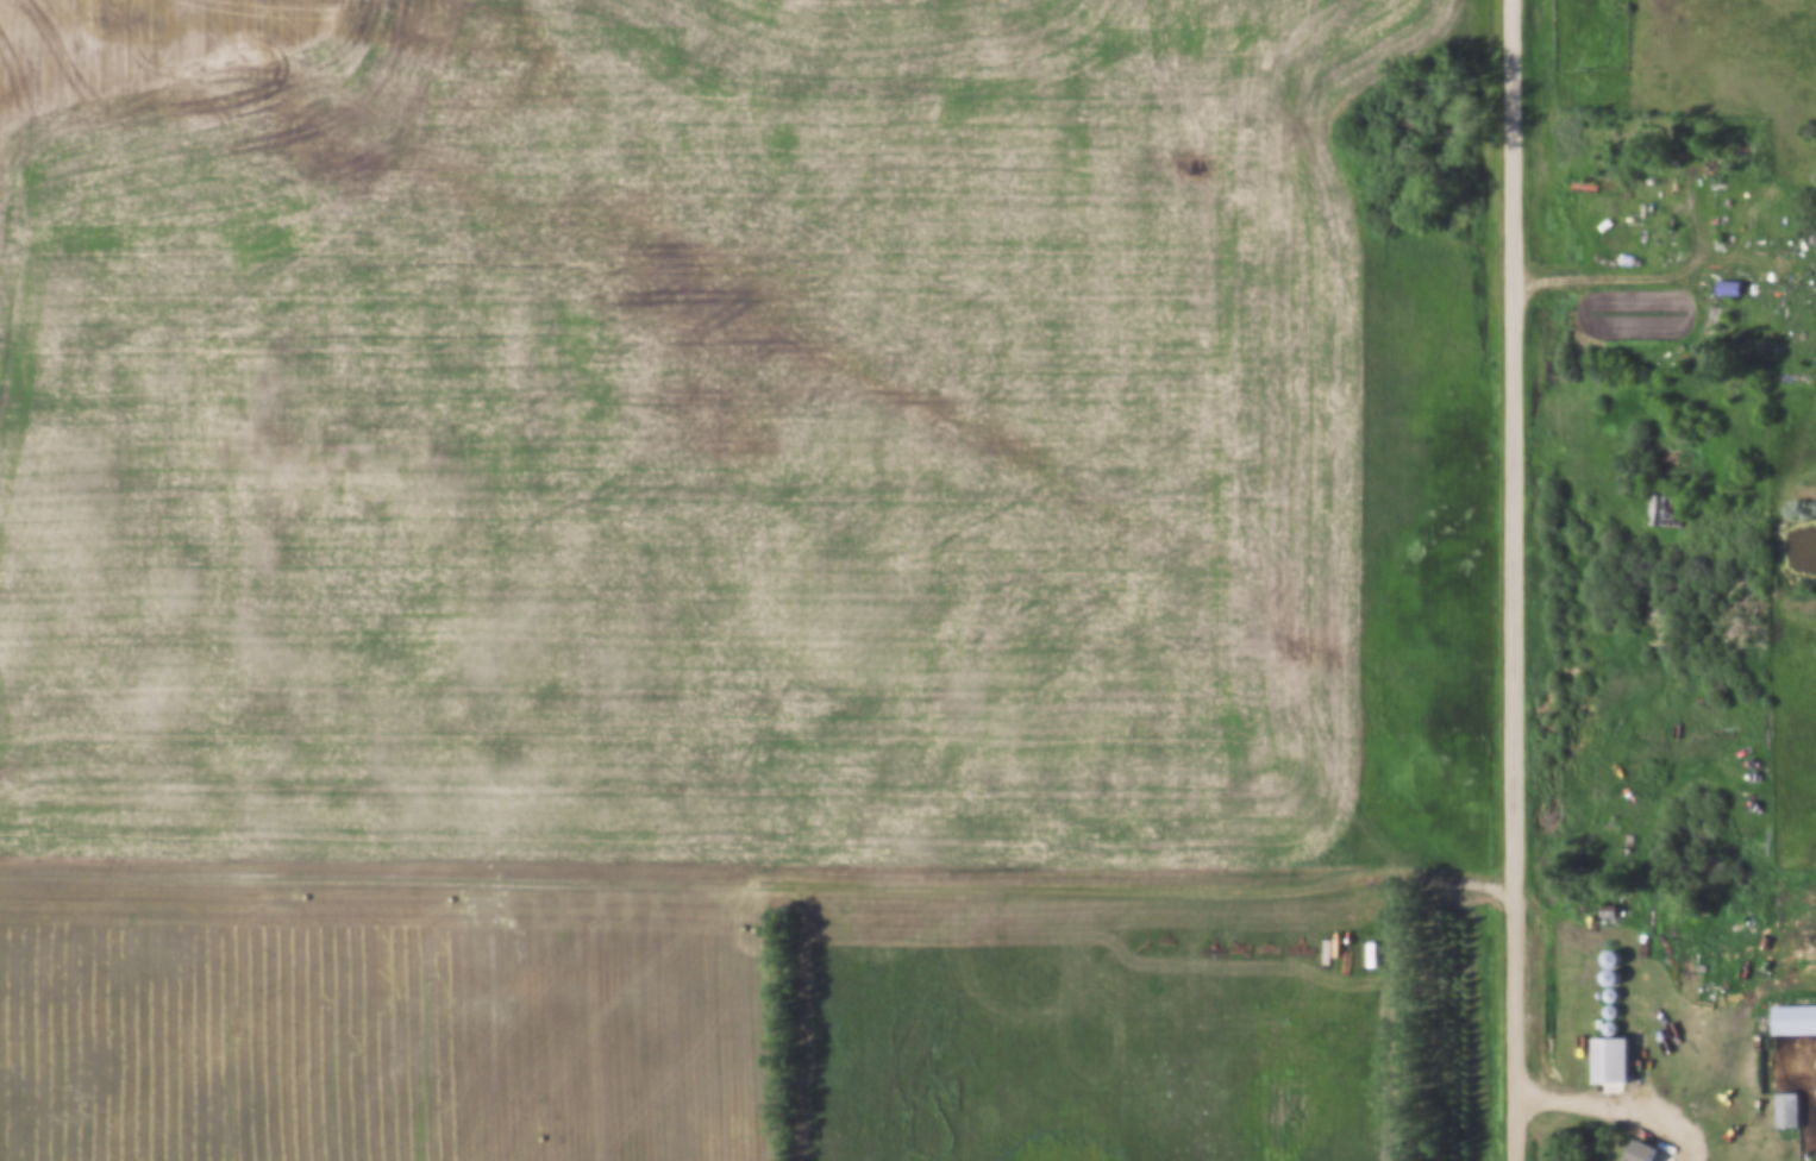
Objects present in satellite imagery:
road: (1664, 269)
building: (1730, 289)
building: (1670, 512)
road: (1516, 580)
building: (1793, 1021)
building: (1609, 1061)
road: (1622, 1103)
building: (1789, 1111)
building: (1637, 1151)

